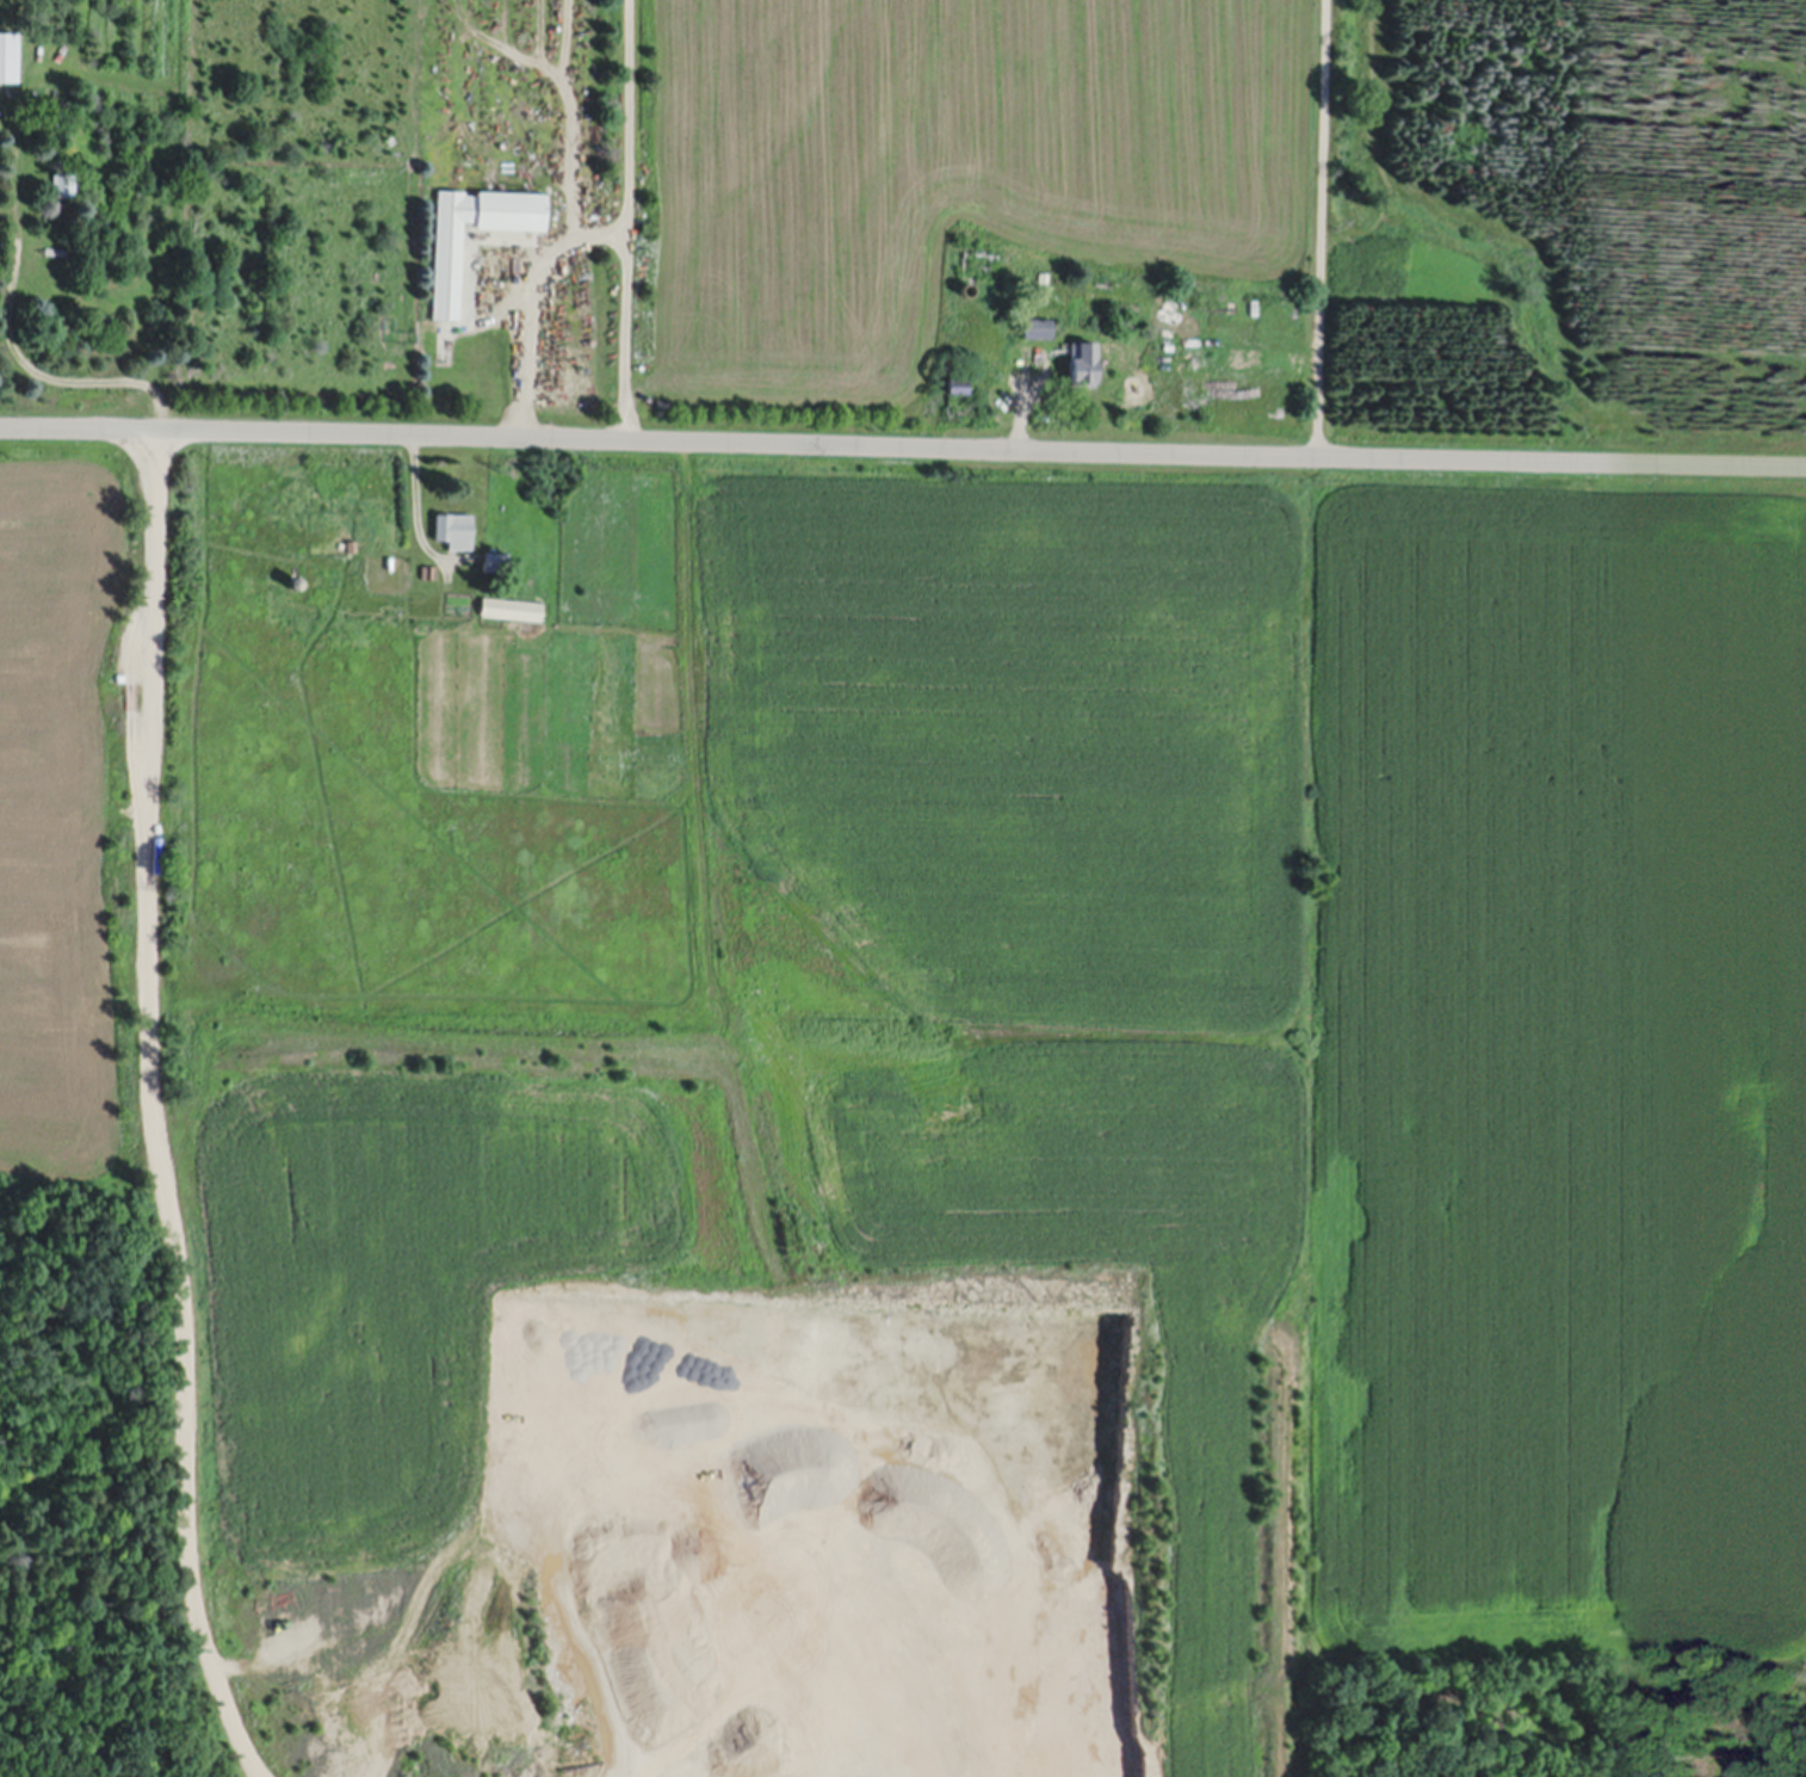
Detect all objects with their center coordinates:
building: (8, 53)
building: (64, 180)
road: (629, 218)
road: (1319, 227)
building: (447, 271)
building: (1045, 274)
building: (967, 285)
building: (1039, 325)
road: (11, 328)
building: (1084, 359)
building: (959, 380)
road: (902, 444)
building: (456, 526)
building: (353, 539)
building: (496, 556)
building: (431, 568)
building: (296, 579)
building: (513, 604)
road: (153, 1110)
quarry: (698, 1577)
building: (1746, 1769)

